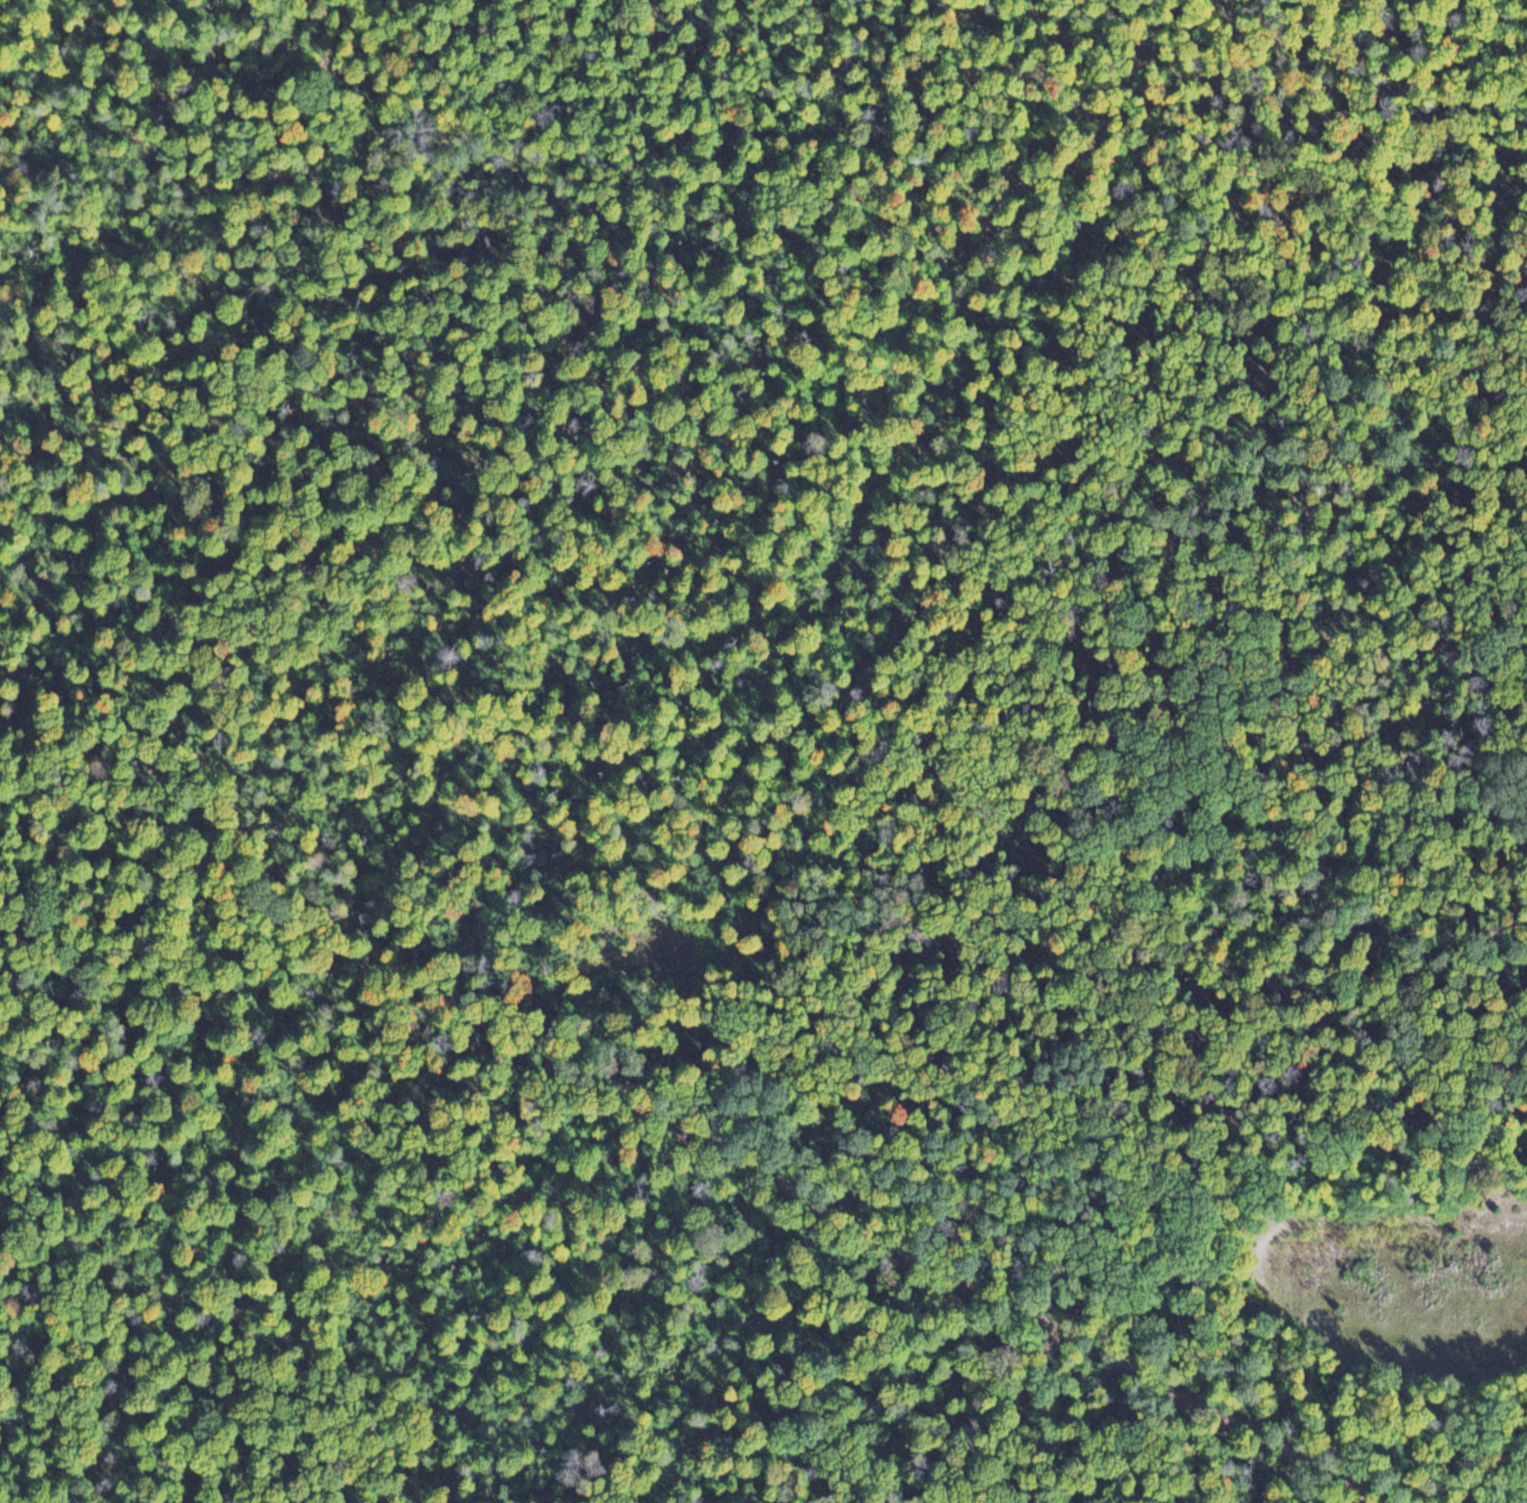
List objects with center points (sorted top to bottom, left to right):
road: (690, 1136)
quarry: (1406, 1281)
road: (1492, 1447)
road: (1266, 1475)

